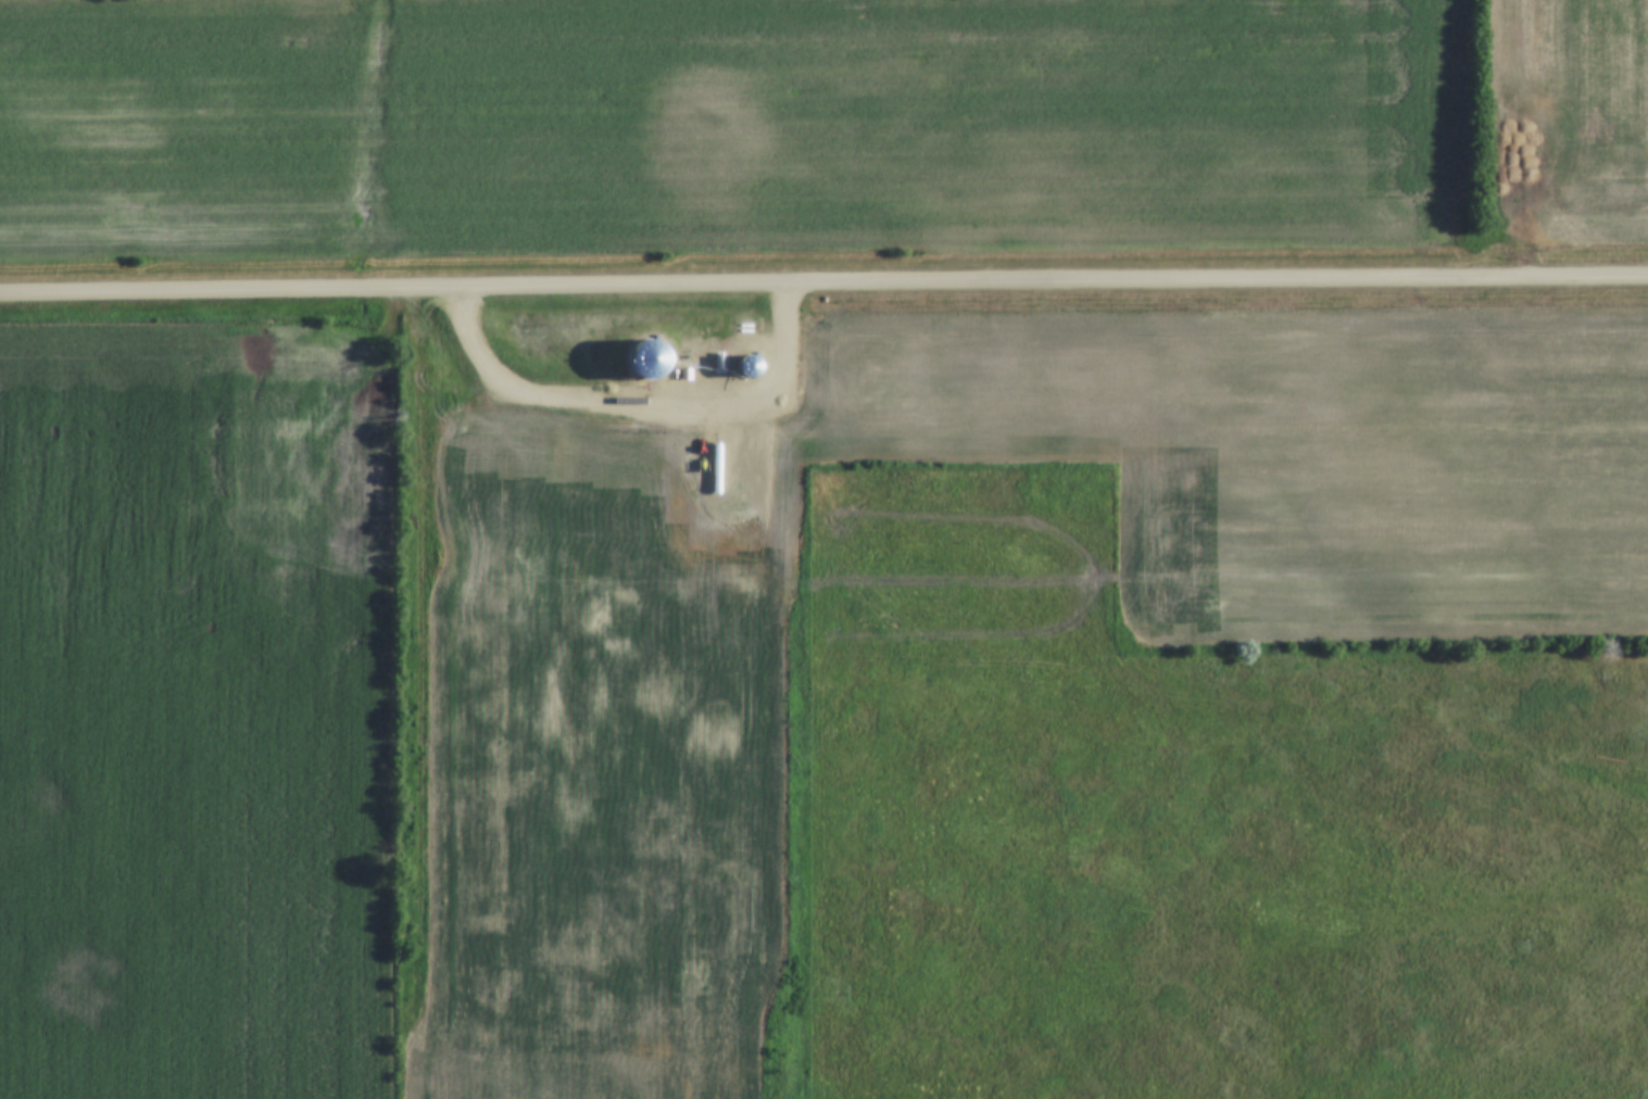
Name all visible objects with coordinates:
road: (823, 285)

